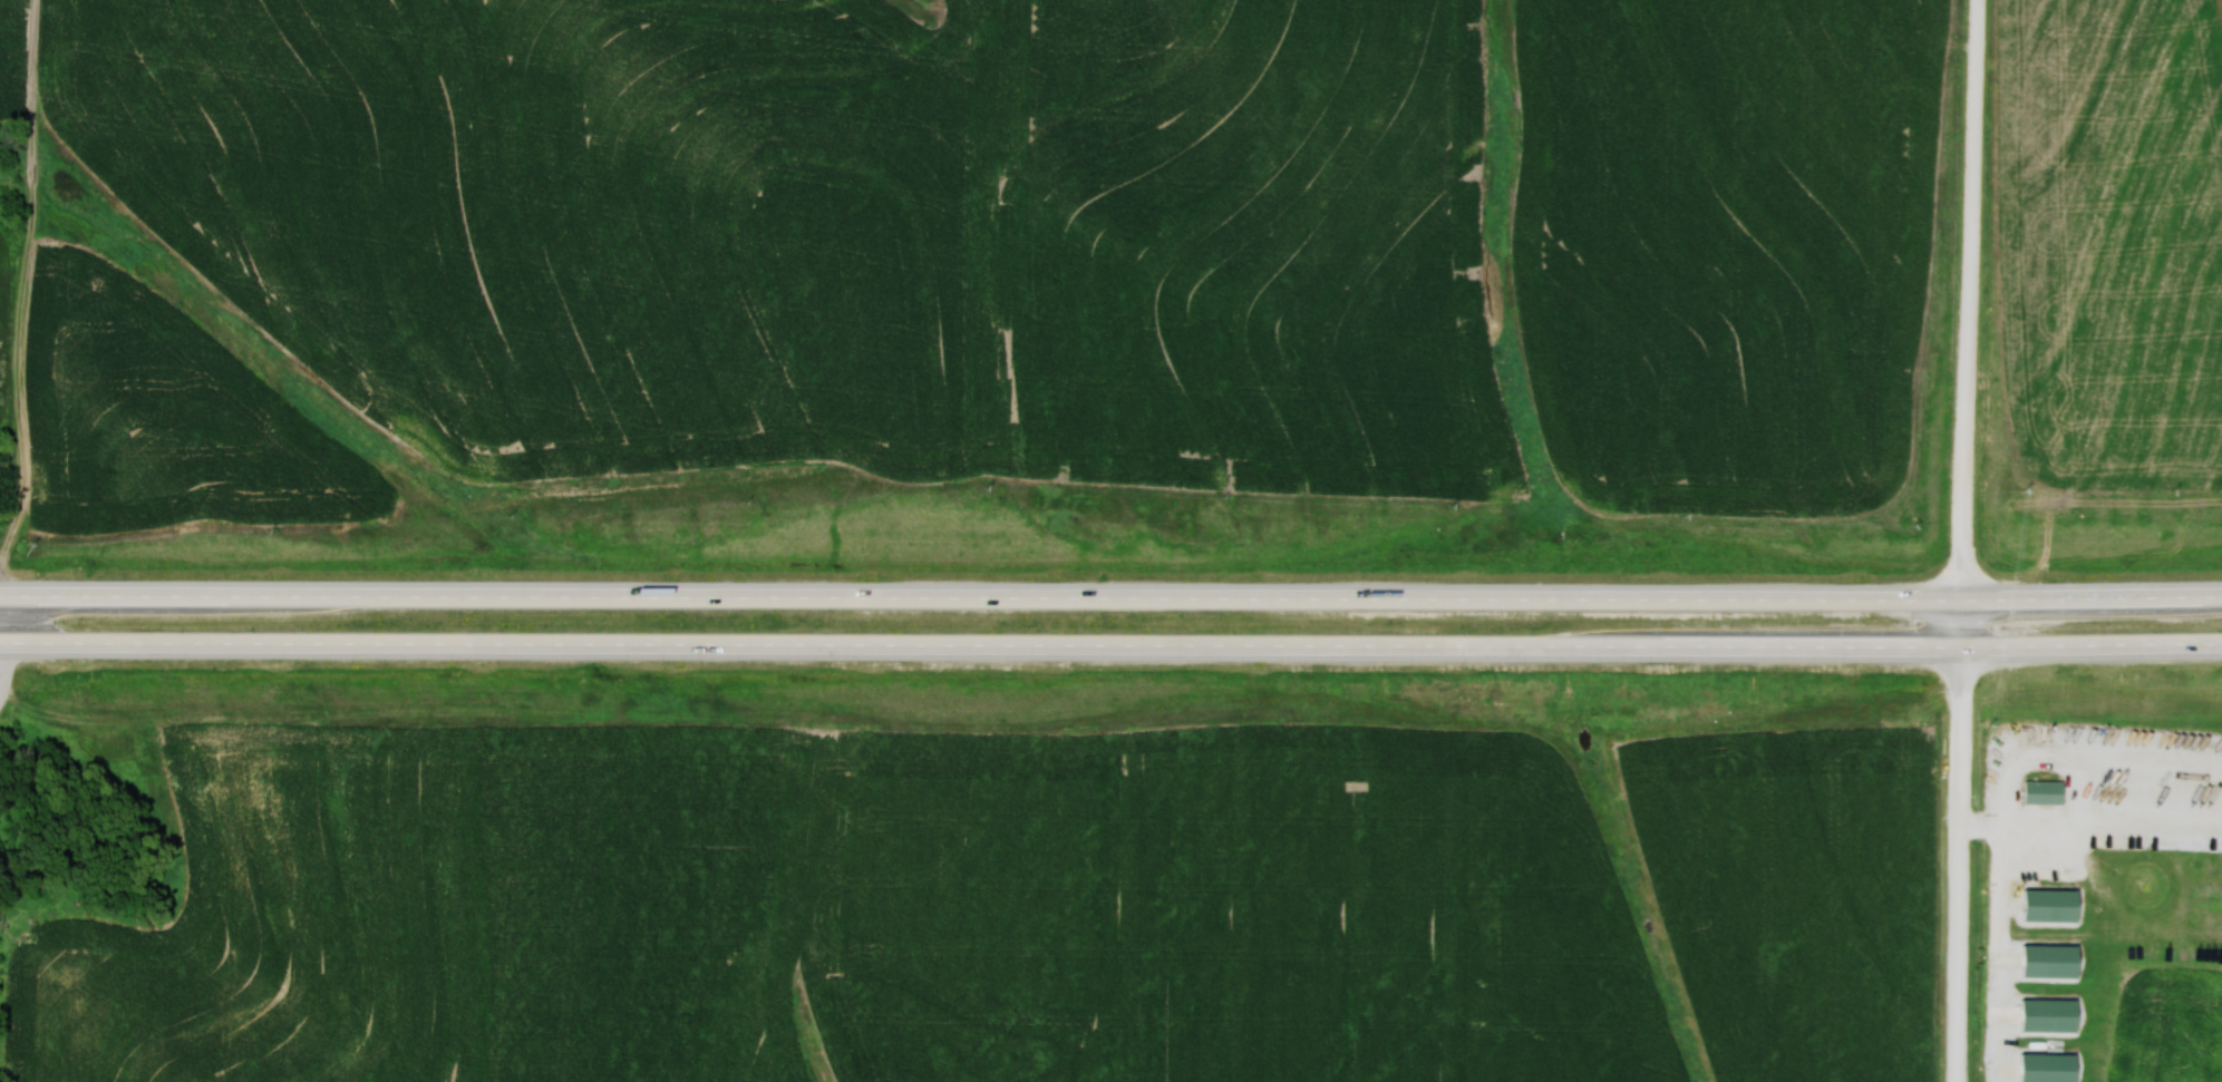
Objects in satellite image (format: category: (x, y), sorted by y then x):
road: (1966, 540)
road: (1110, 597)
road: (3, 653)
road: (1110, 654)
building: (2047, 792)
road: (2019, 816)
road: (2093, 826)
building: (2055, 905)
building: (2053, 961)
building: (2051, 1015)
building: (2051, 1068)

